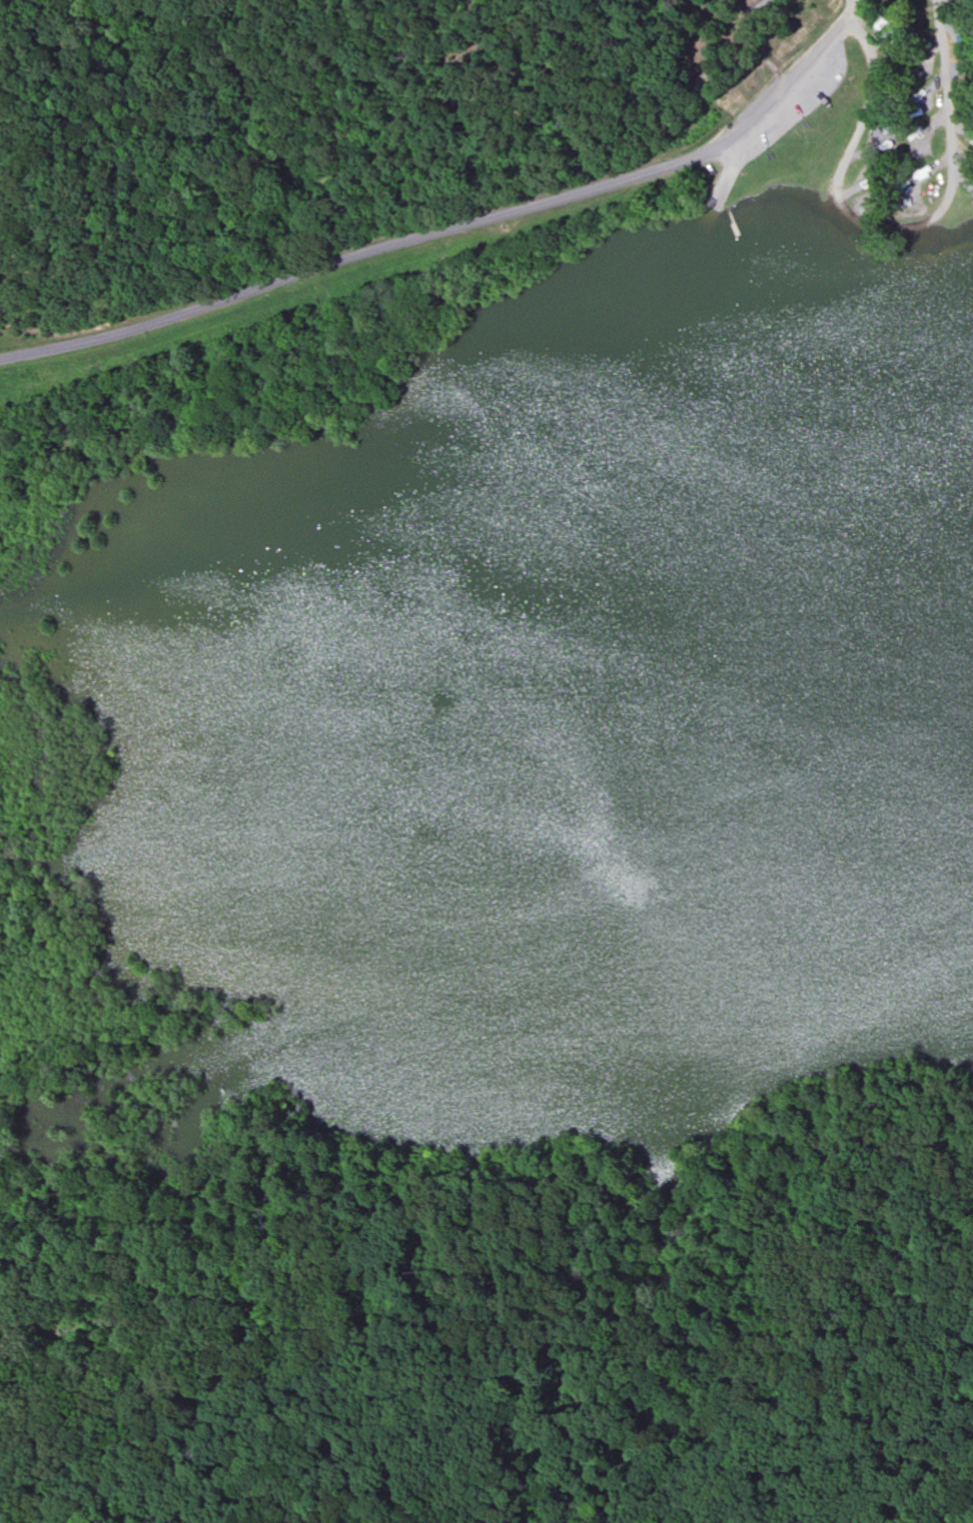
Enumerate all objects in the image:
road: (863, 2)
road: (963, 8)
road: (463, 227)
road: (898, 230)

